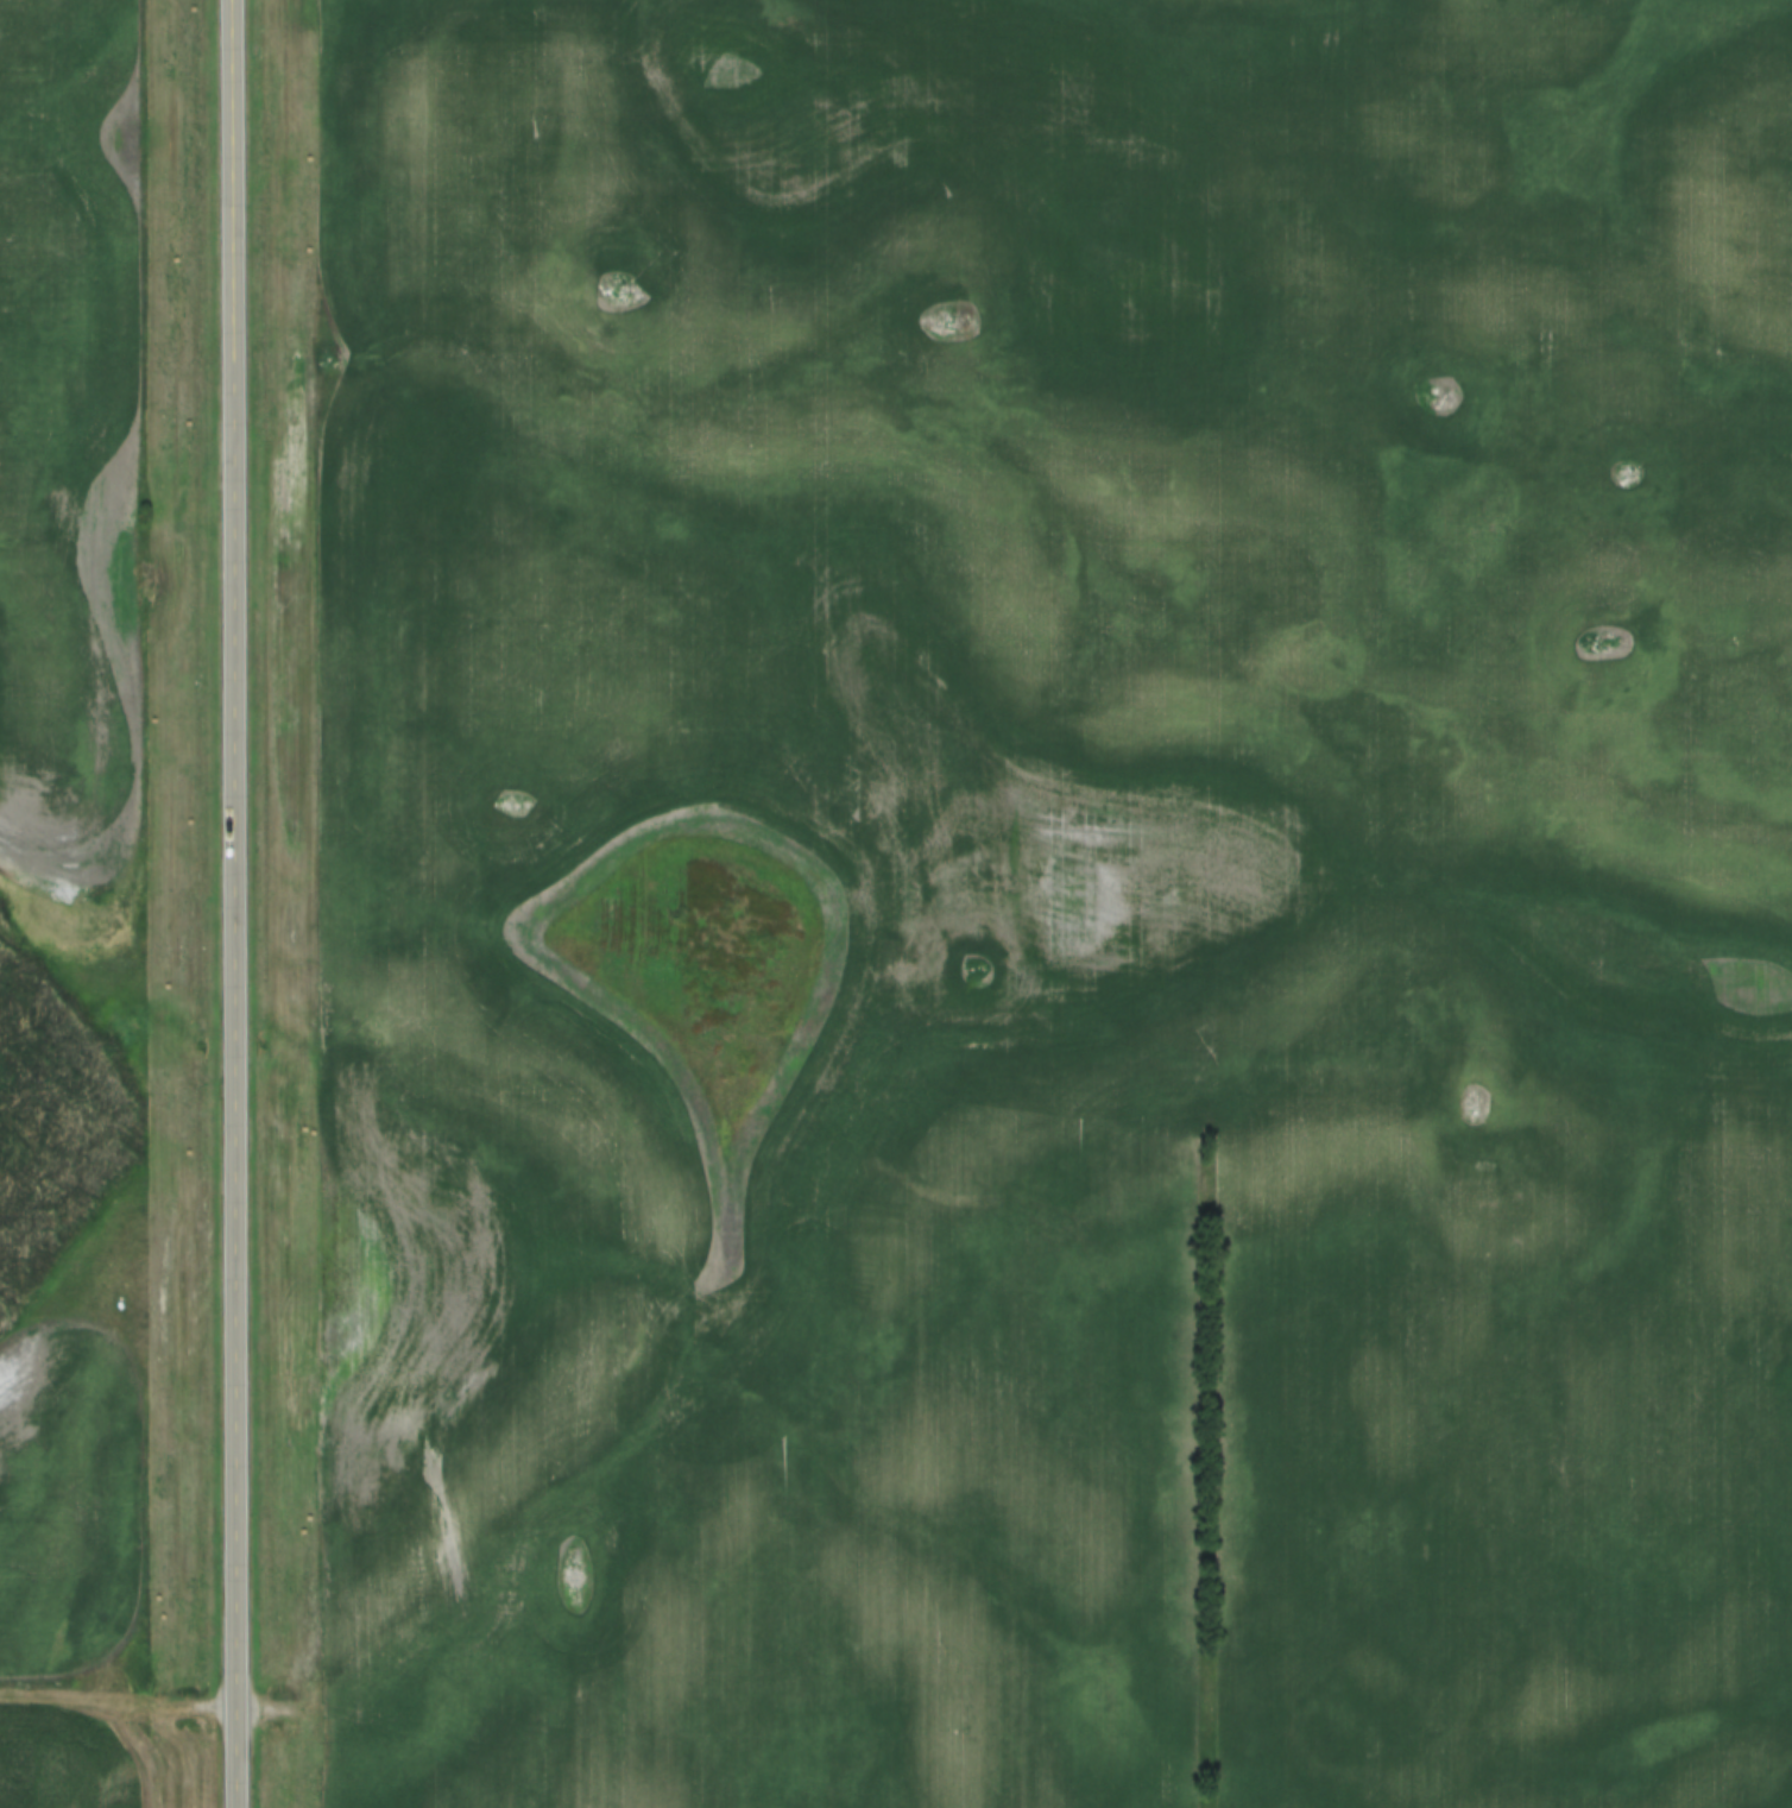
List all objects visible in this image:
road: (235, 903)
road: (119, 1700)

